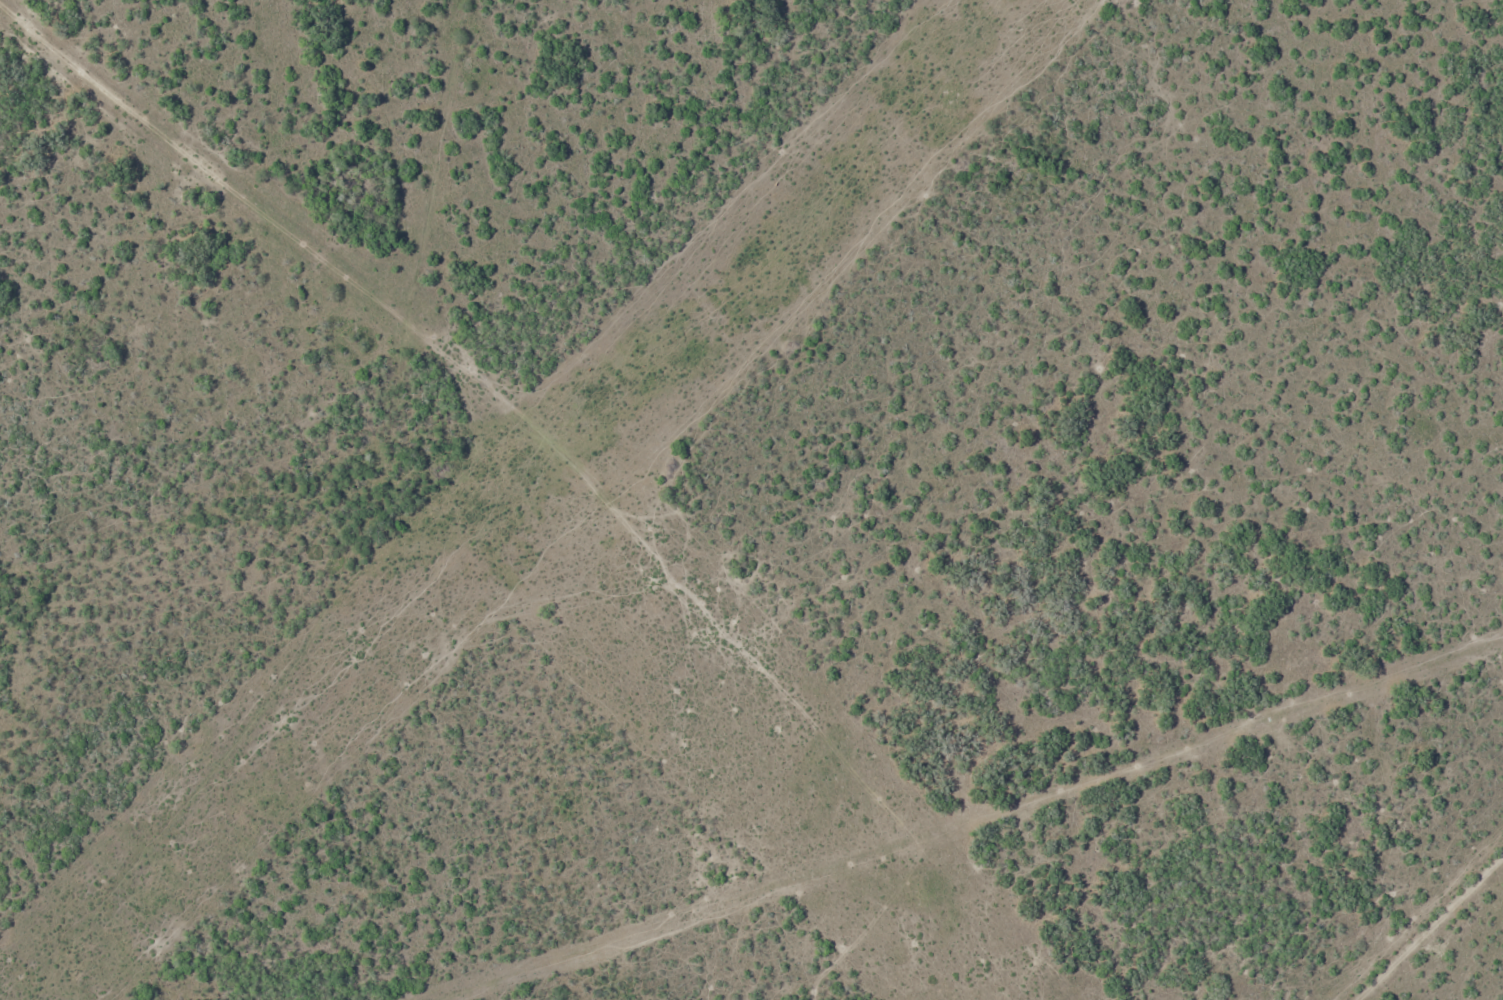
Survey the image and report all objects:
road: (1443, 942)

